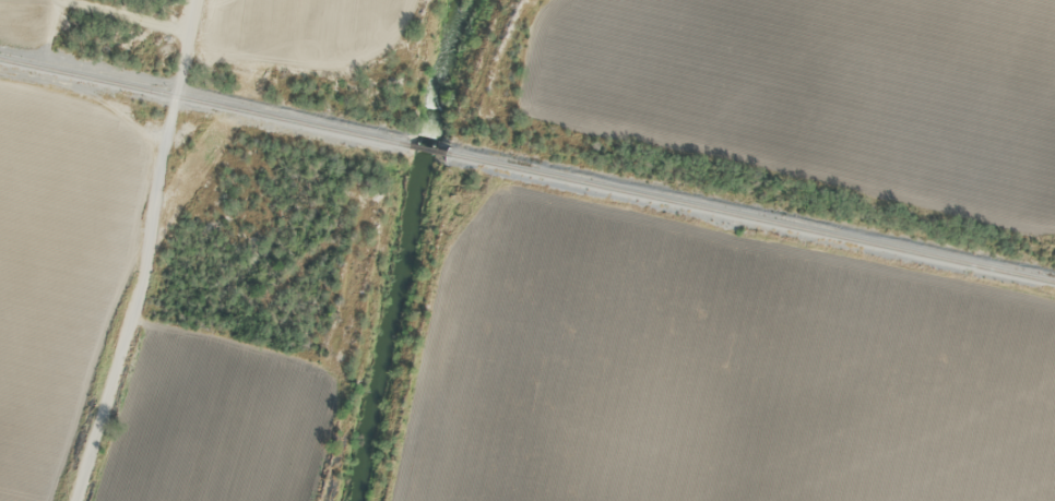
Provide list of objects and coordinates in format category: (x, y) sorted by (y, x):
railway: (527, 168)

